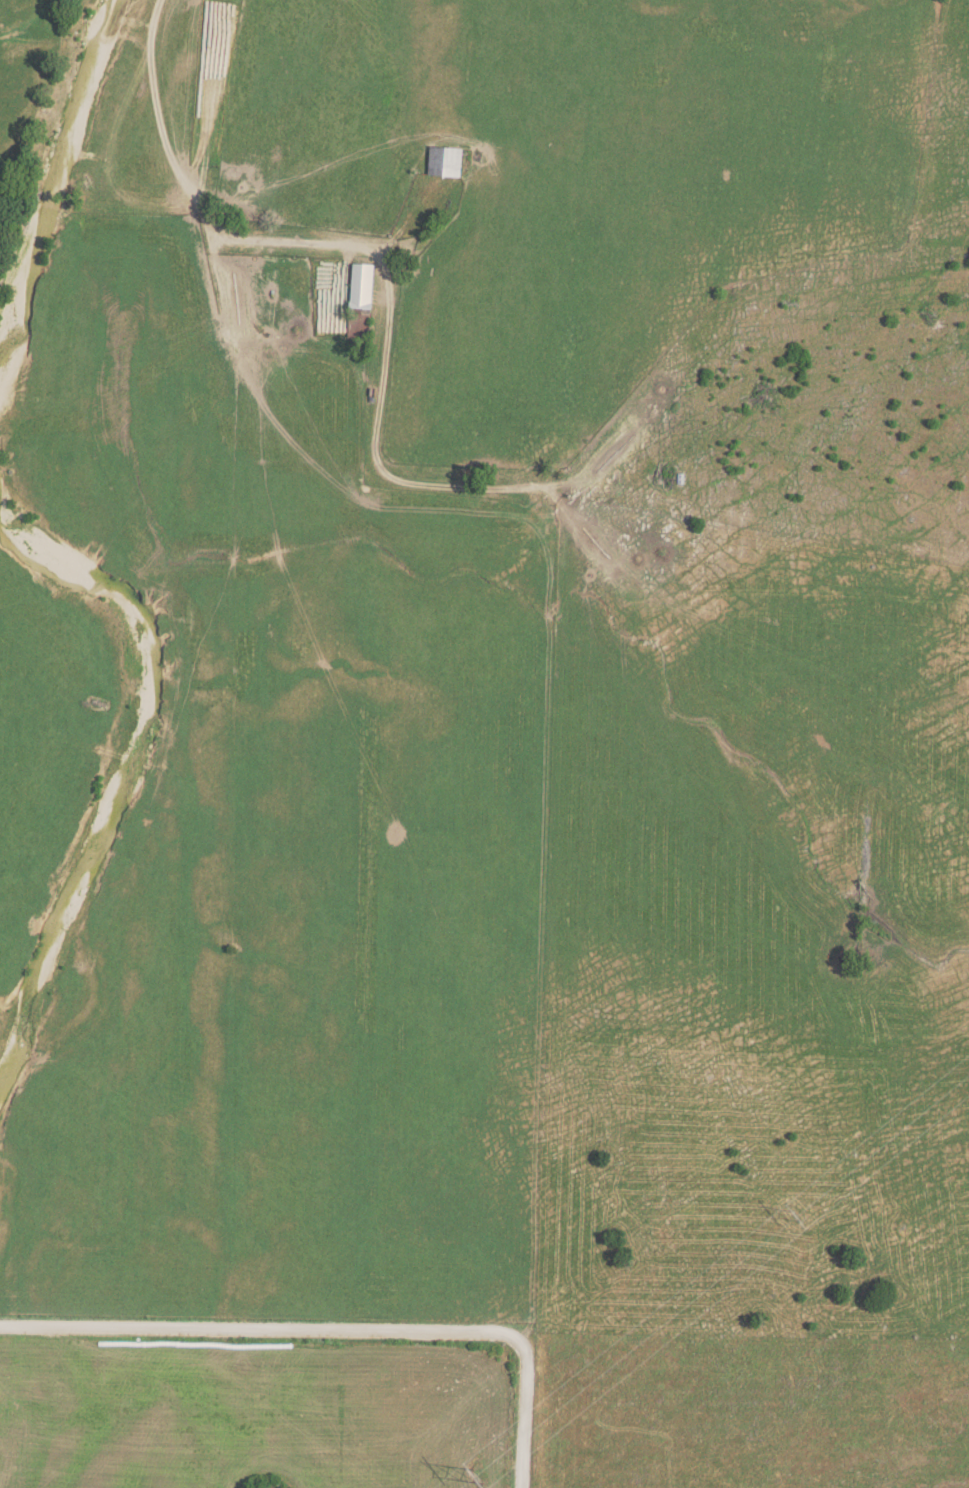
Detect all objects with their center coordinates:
building: (445, 163)
road: (196, 201)
building: (364, 287)
power tower: (800, 1220)
road: (333, 1331)
power tower: (486, 1476)

